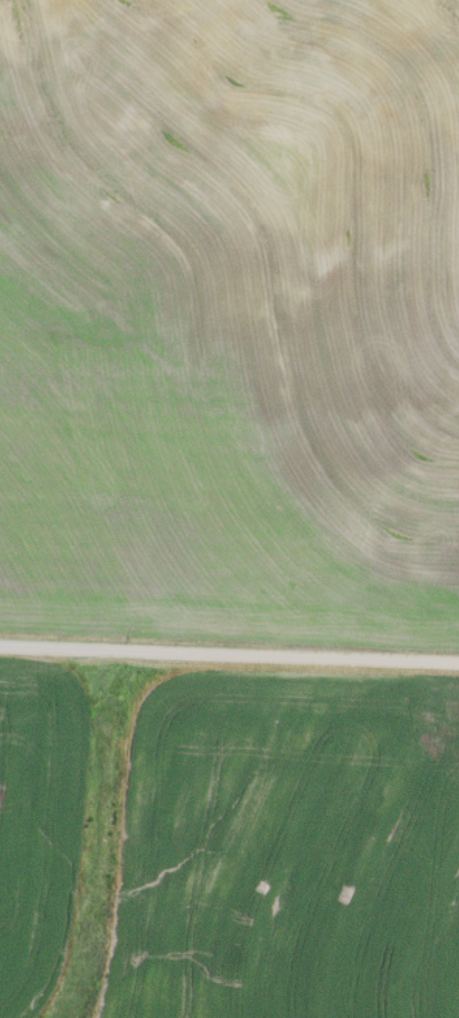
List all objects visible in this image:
road: (229, 654)

